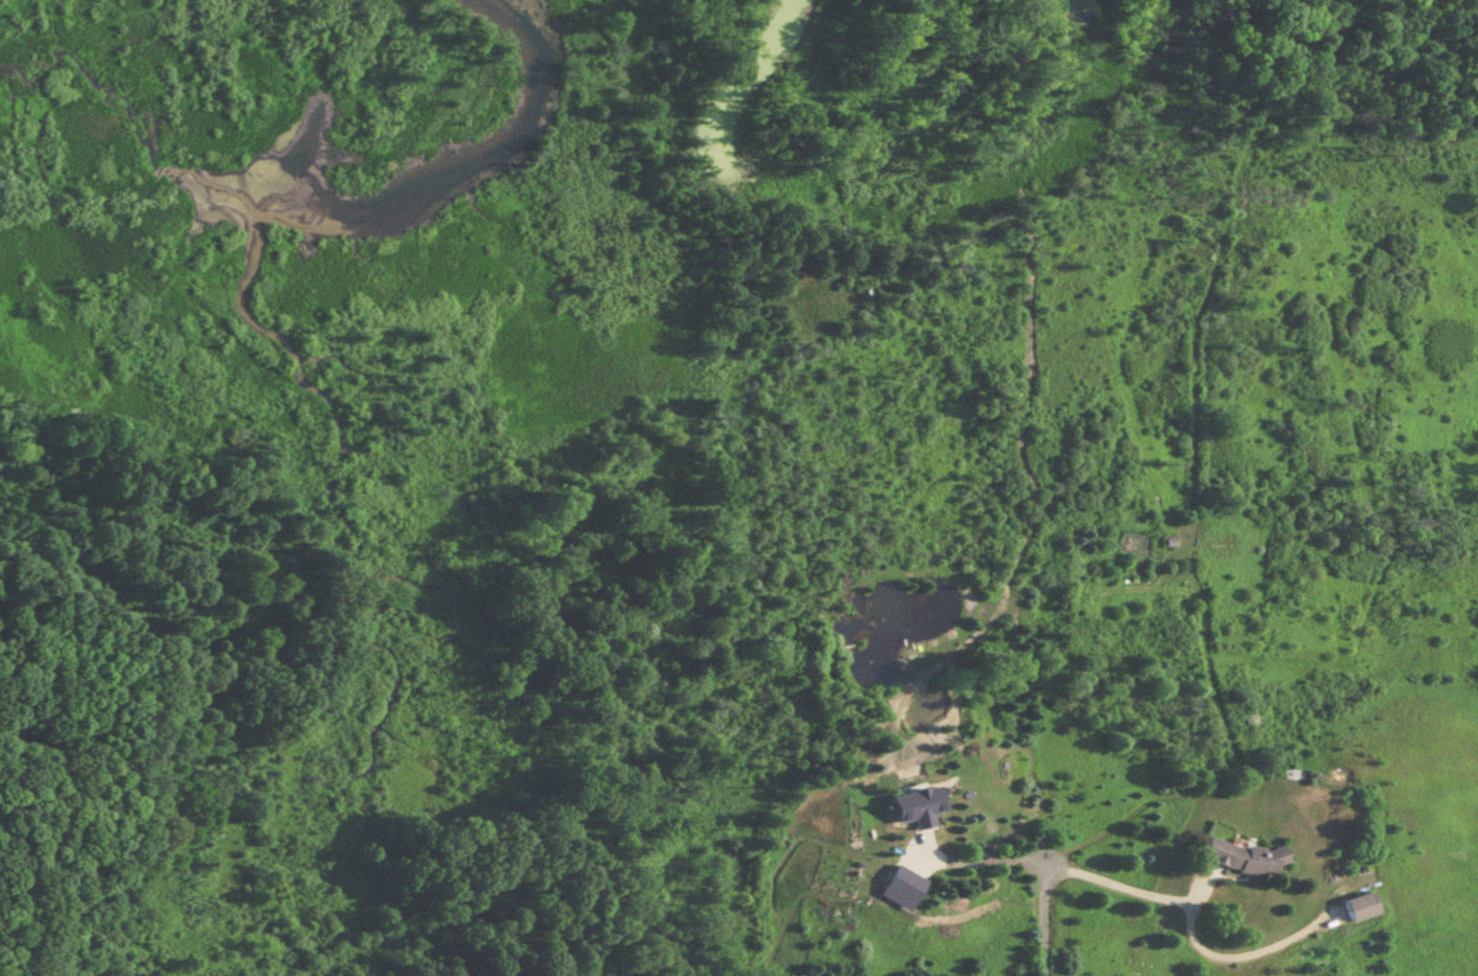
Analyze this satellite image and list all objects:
building: (923, 806)
building: (1236, 858)
road: (975, 867)
road: (1116, 893)
building: (1355, 907)
road: (1039, 926)
road: (1232, 964)

